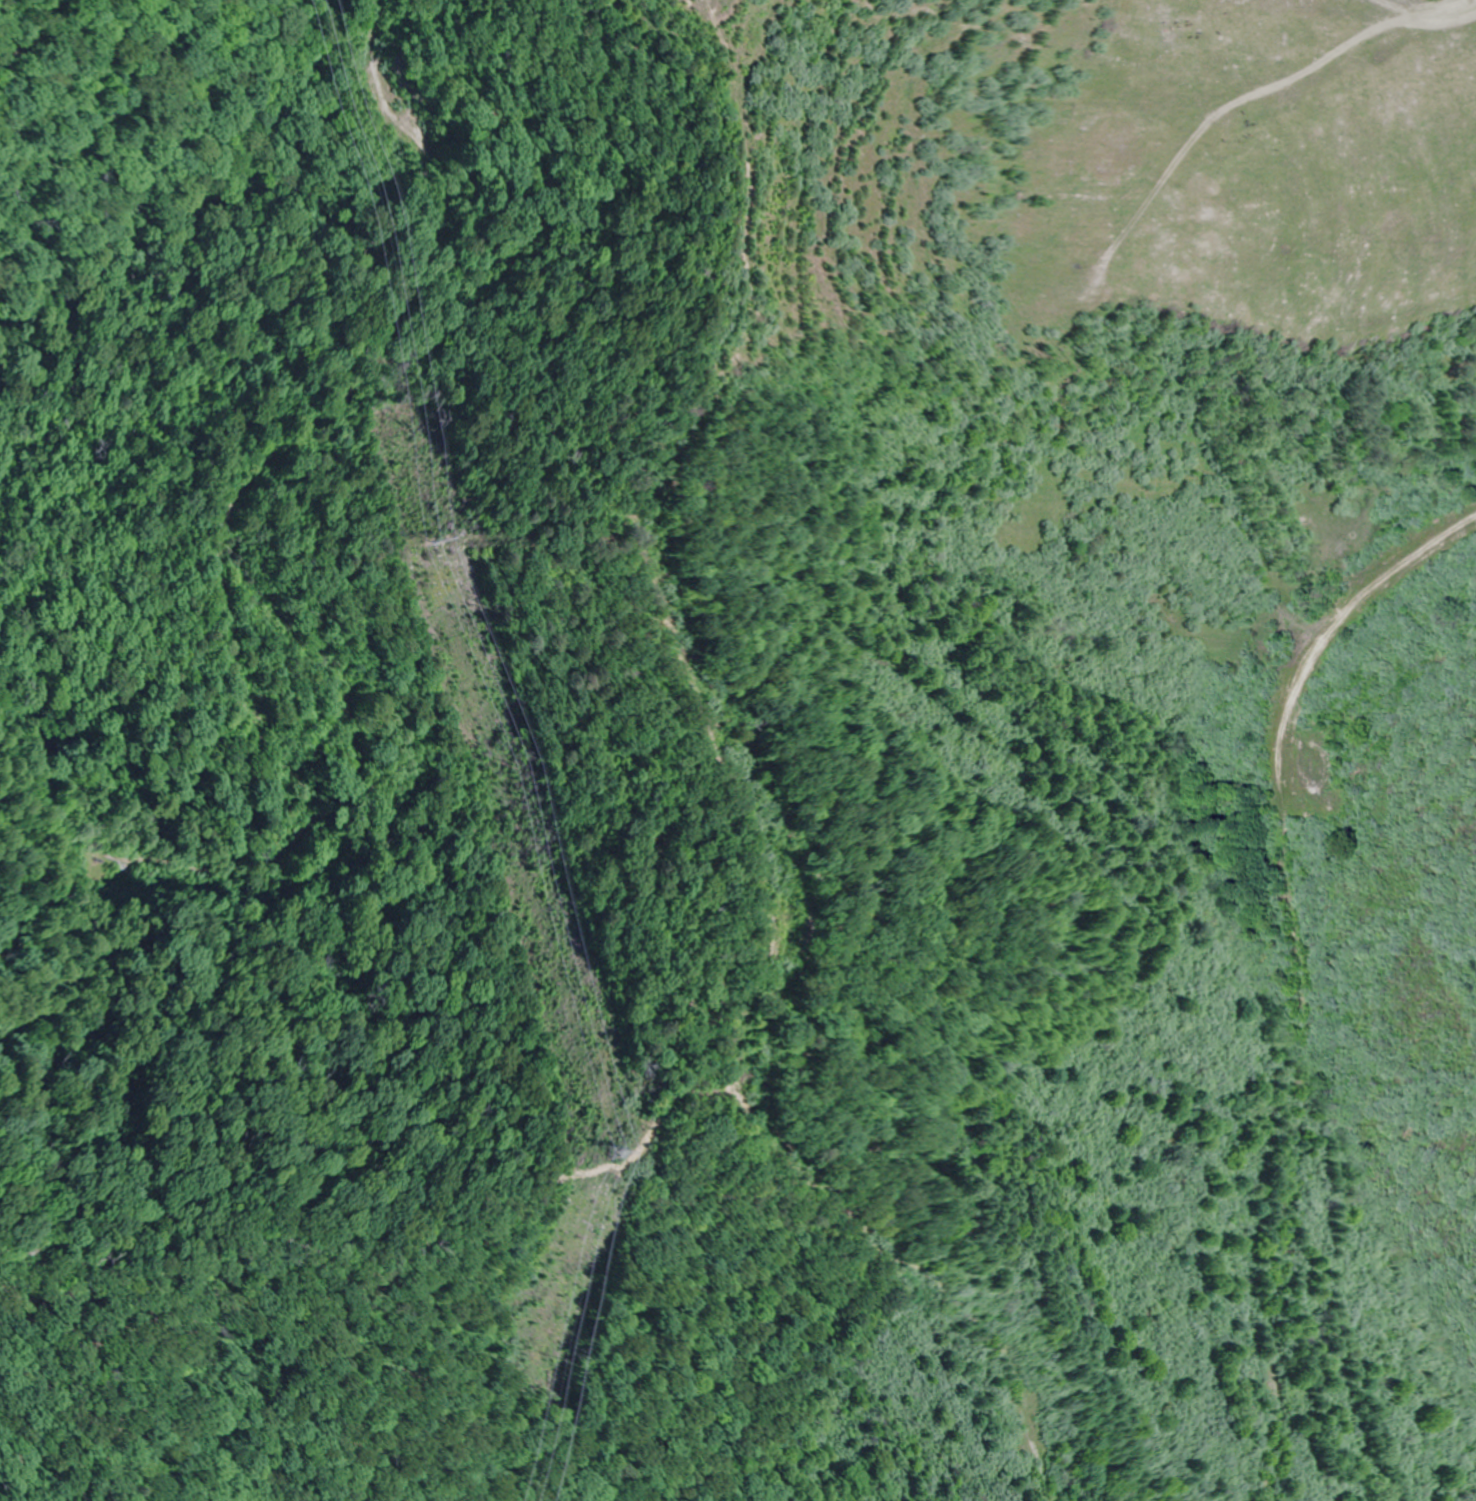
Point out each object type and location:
power tower: (417, 541)
power tower: (607, 1153)

